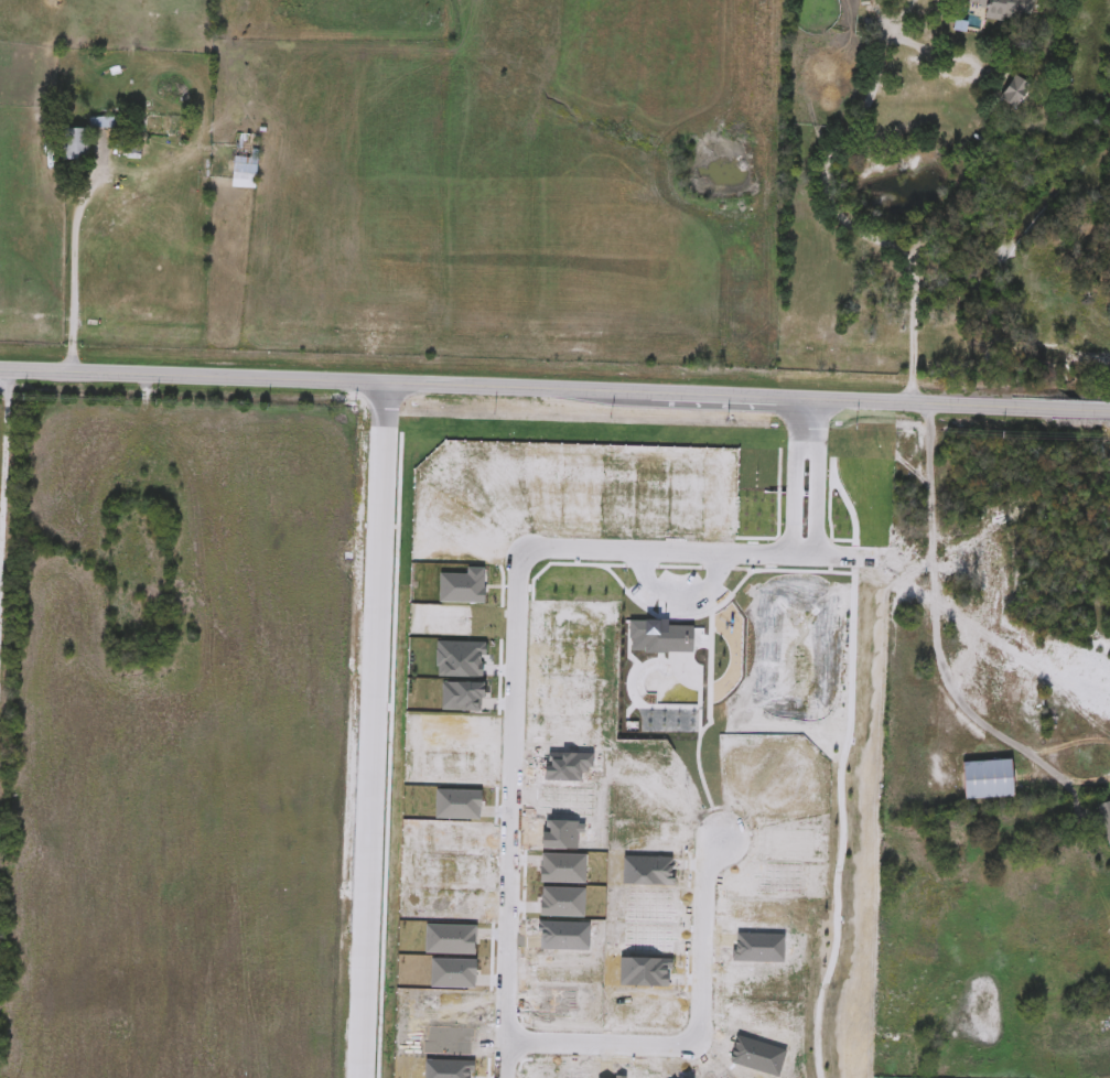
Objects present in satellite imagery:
building: (1003, 8)
road: (929, 48)
building: (104, 122)
building: (76, 144)
building: (246, 159)
road: (844, 224)
road: (75, 257)
road: (554, 388)
road: (816, 477)
road: (696, 552)
road: (369, 730)
building: (992, 779)
road: (509, 812)
building: (1106, 820)
road: (692, 1034)

